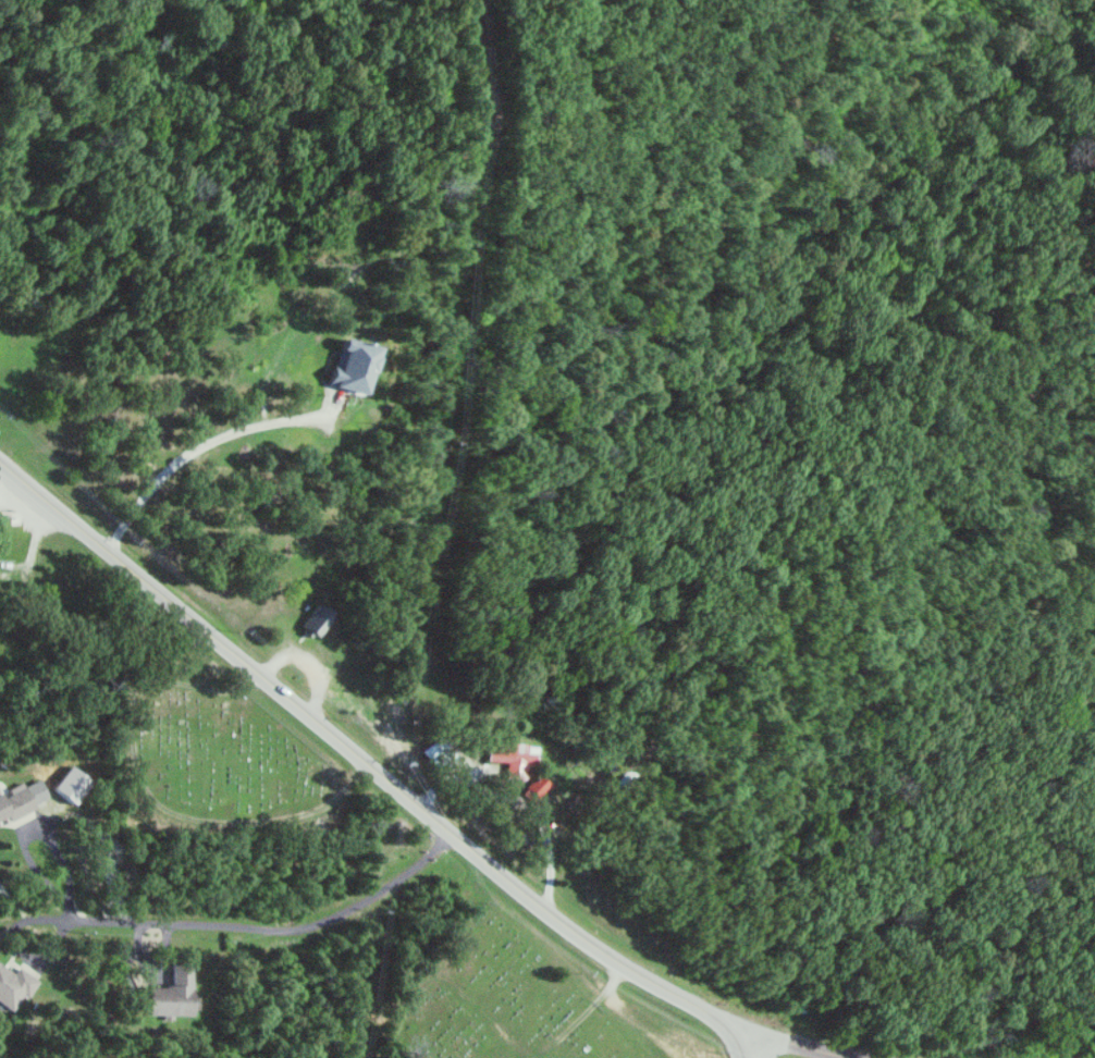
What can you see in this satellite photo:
building: (350, 367)
road: (195, 445)
building: (0, 526)
building: (317, 619)
park: (216, 756)
building: (512, 758)
road: (368, 766)
building: (73, 784)
building: (534, 788)
building: (23, 799)
road: (264, 928)
building: (14, 986)
building: (170, 995)
park: (496, 997)
road: (797, 1045)

